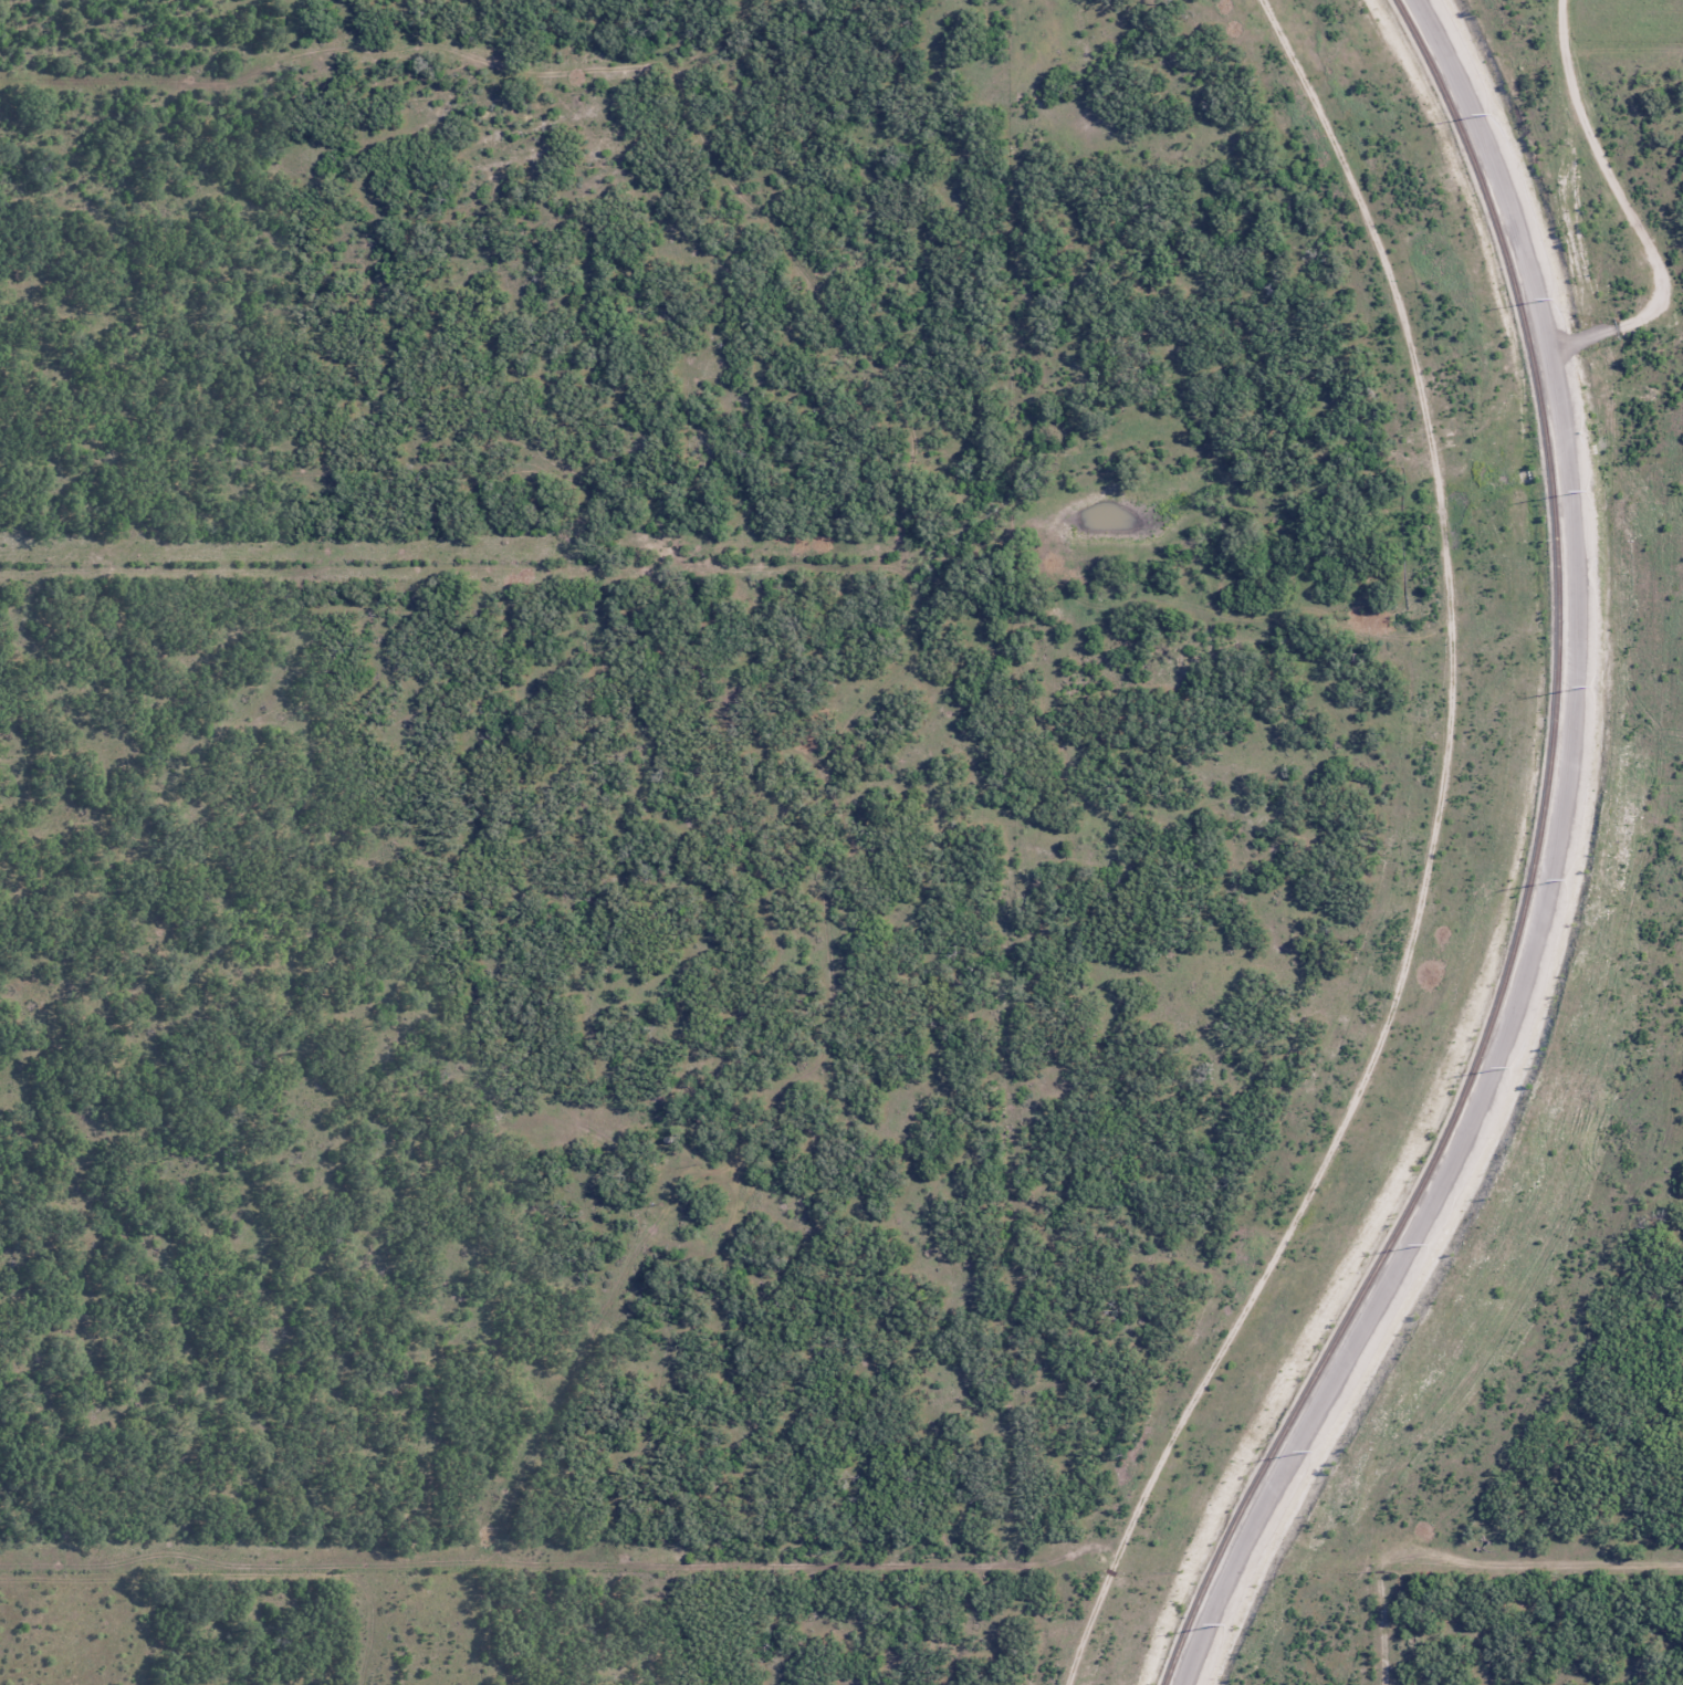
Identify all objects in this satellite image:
power tower: (1491, 114)
road: (1629, 210)
power tower: (1554, 300)
power tower: (1588, 491)
power tower: (1590, 685)
railway: (1536, 868)
road: (1546, 868)
power tower: (1565, 878)
power tower: (1508, 1067)
power tower: (1426, 1244)
power tower: (1311, 1451)
road: (1472, 1562)
power tower: (1224, 1624)

